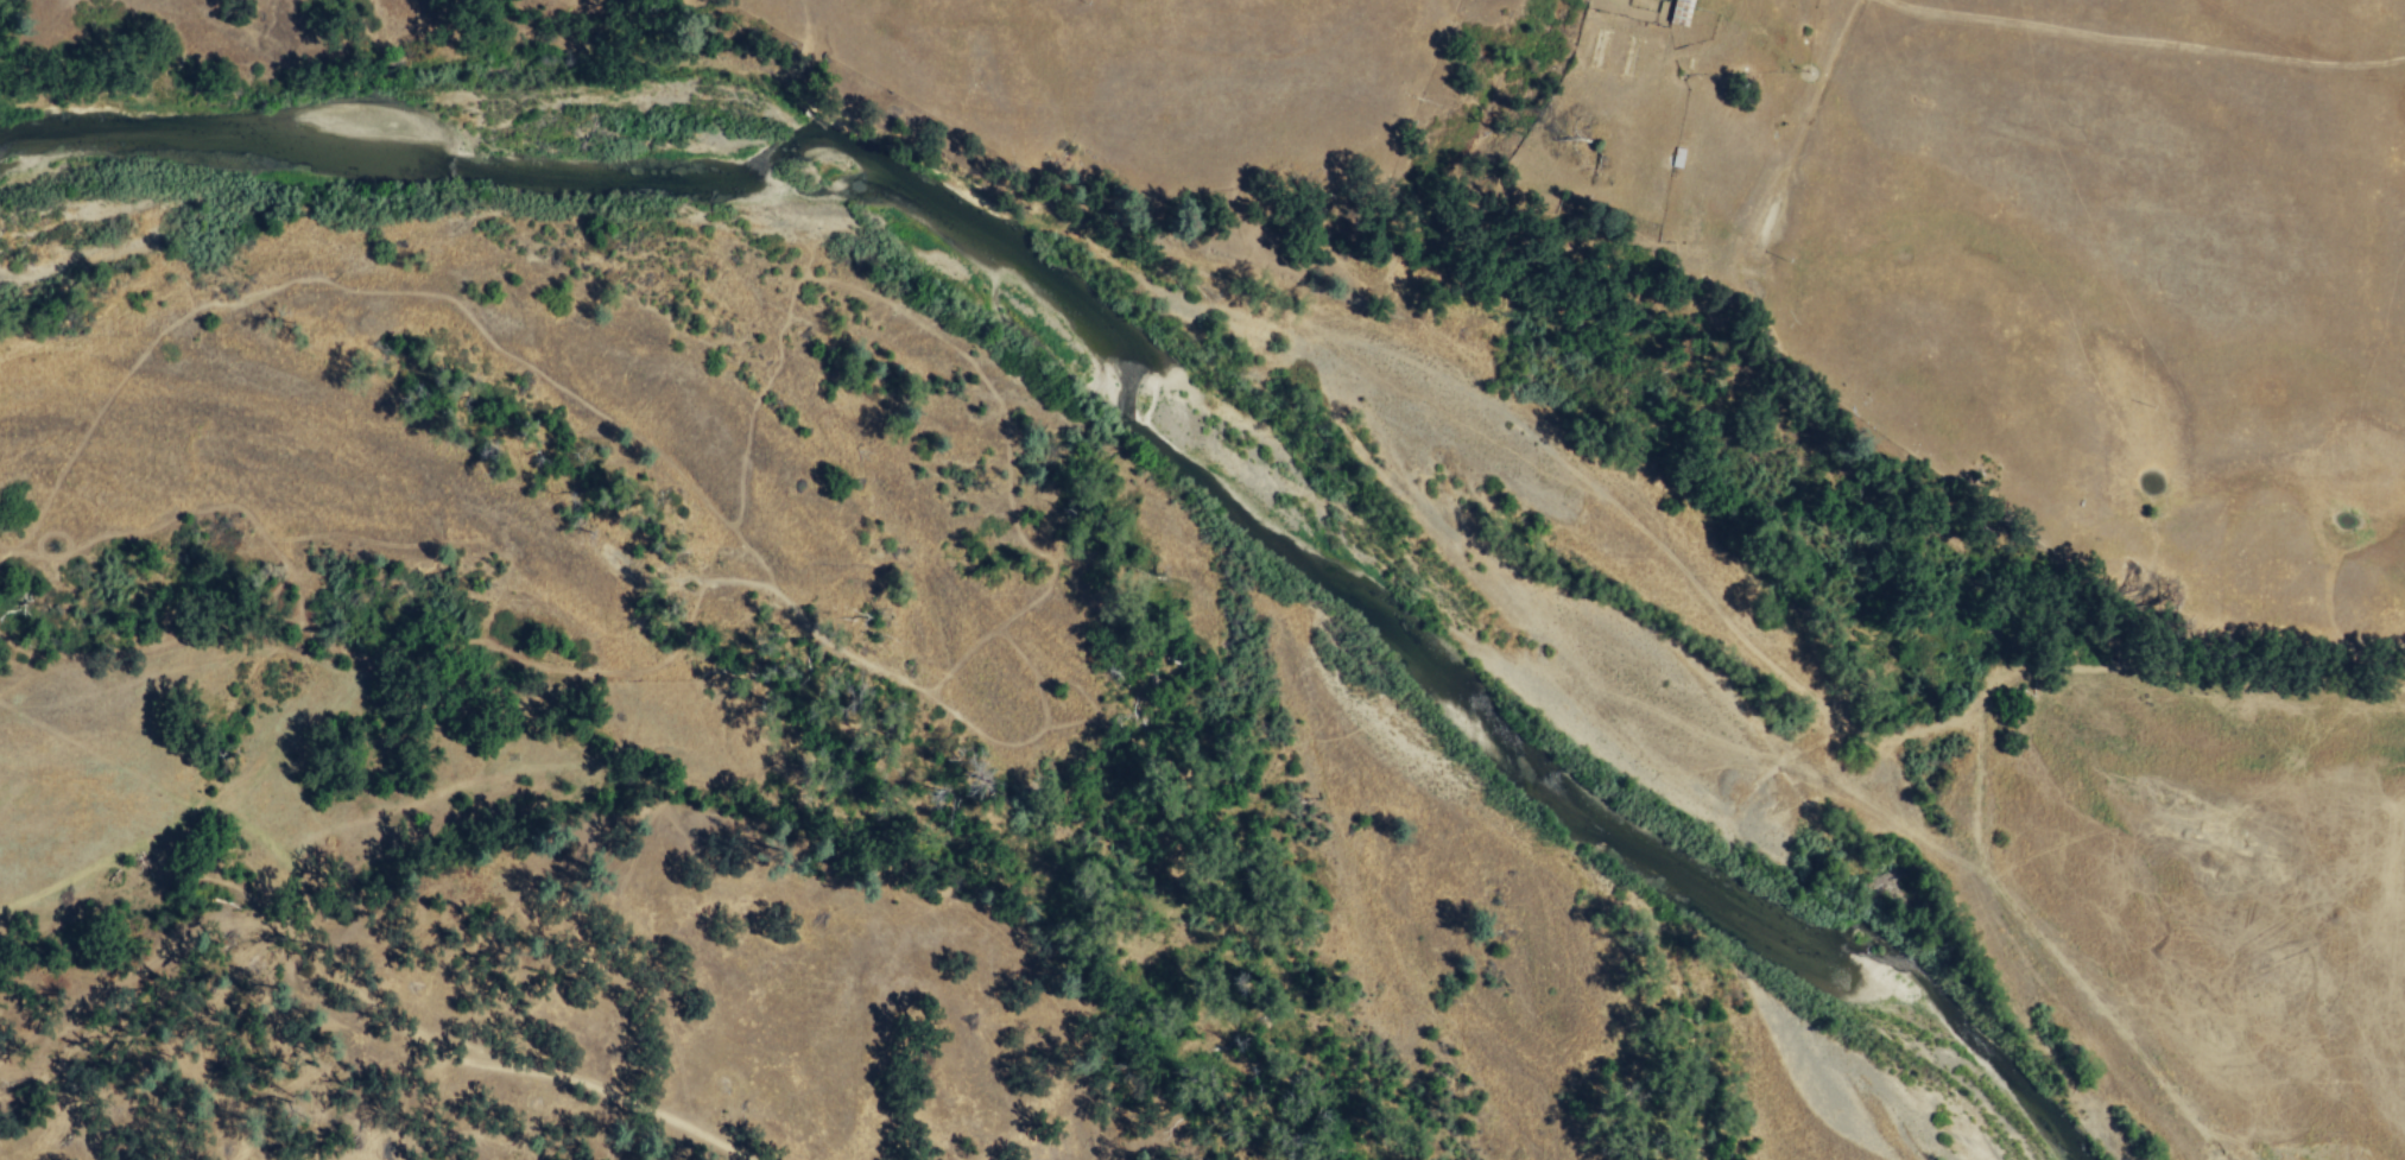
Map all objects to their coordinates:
road: (2146, 43)
river: (520, 84)
river: (1243, 492)
river: (1785, 928)

